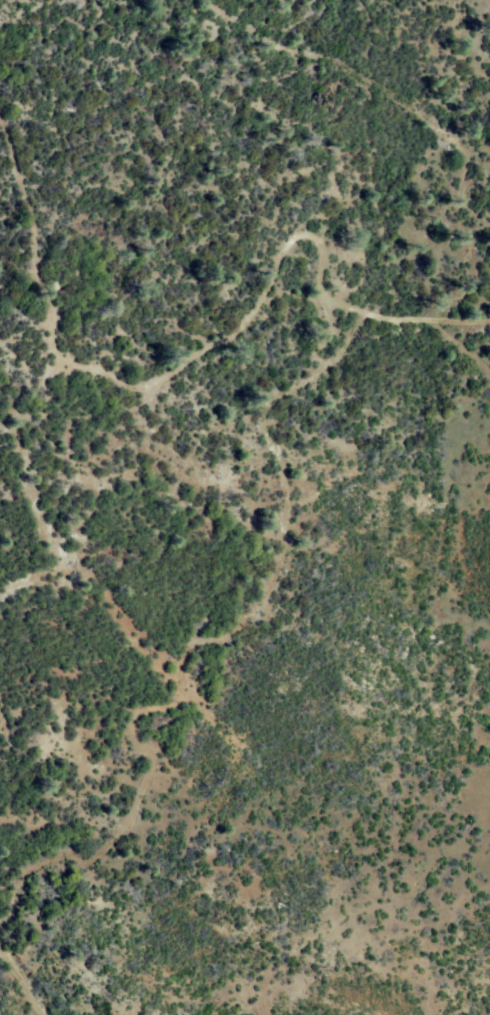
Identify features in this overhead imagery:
road: (17, 979)

